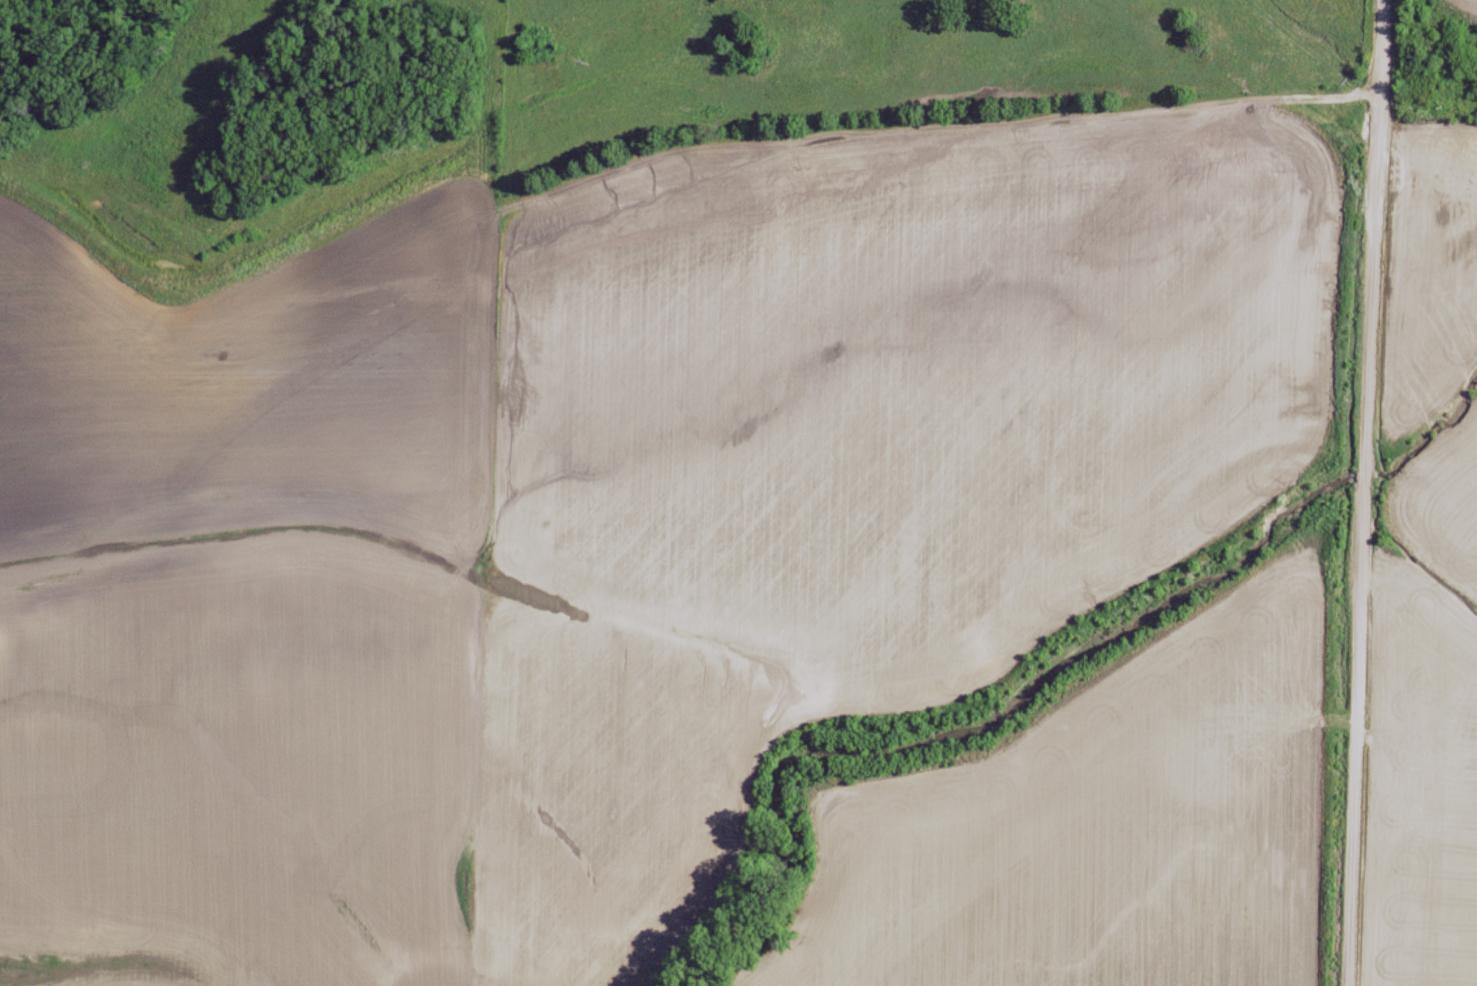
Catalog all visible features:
road: (1340, 492)

